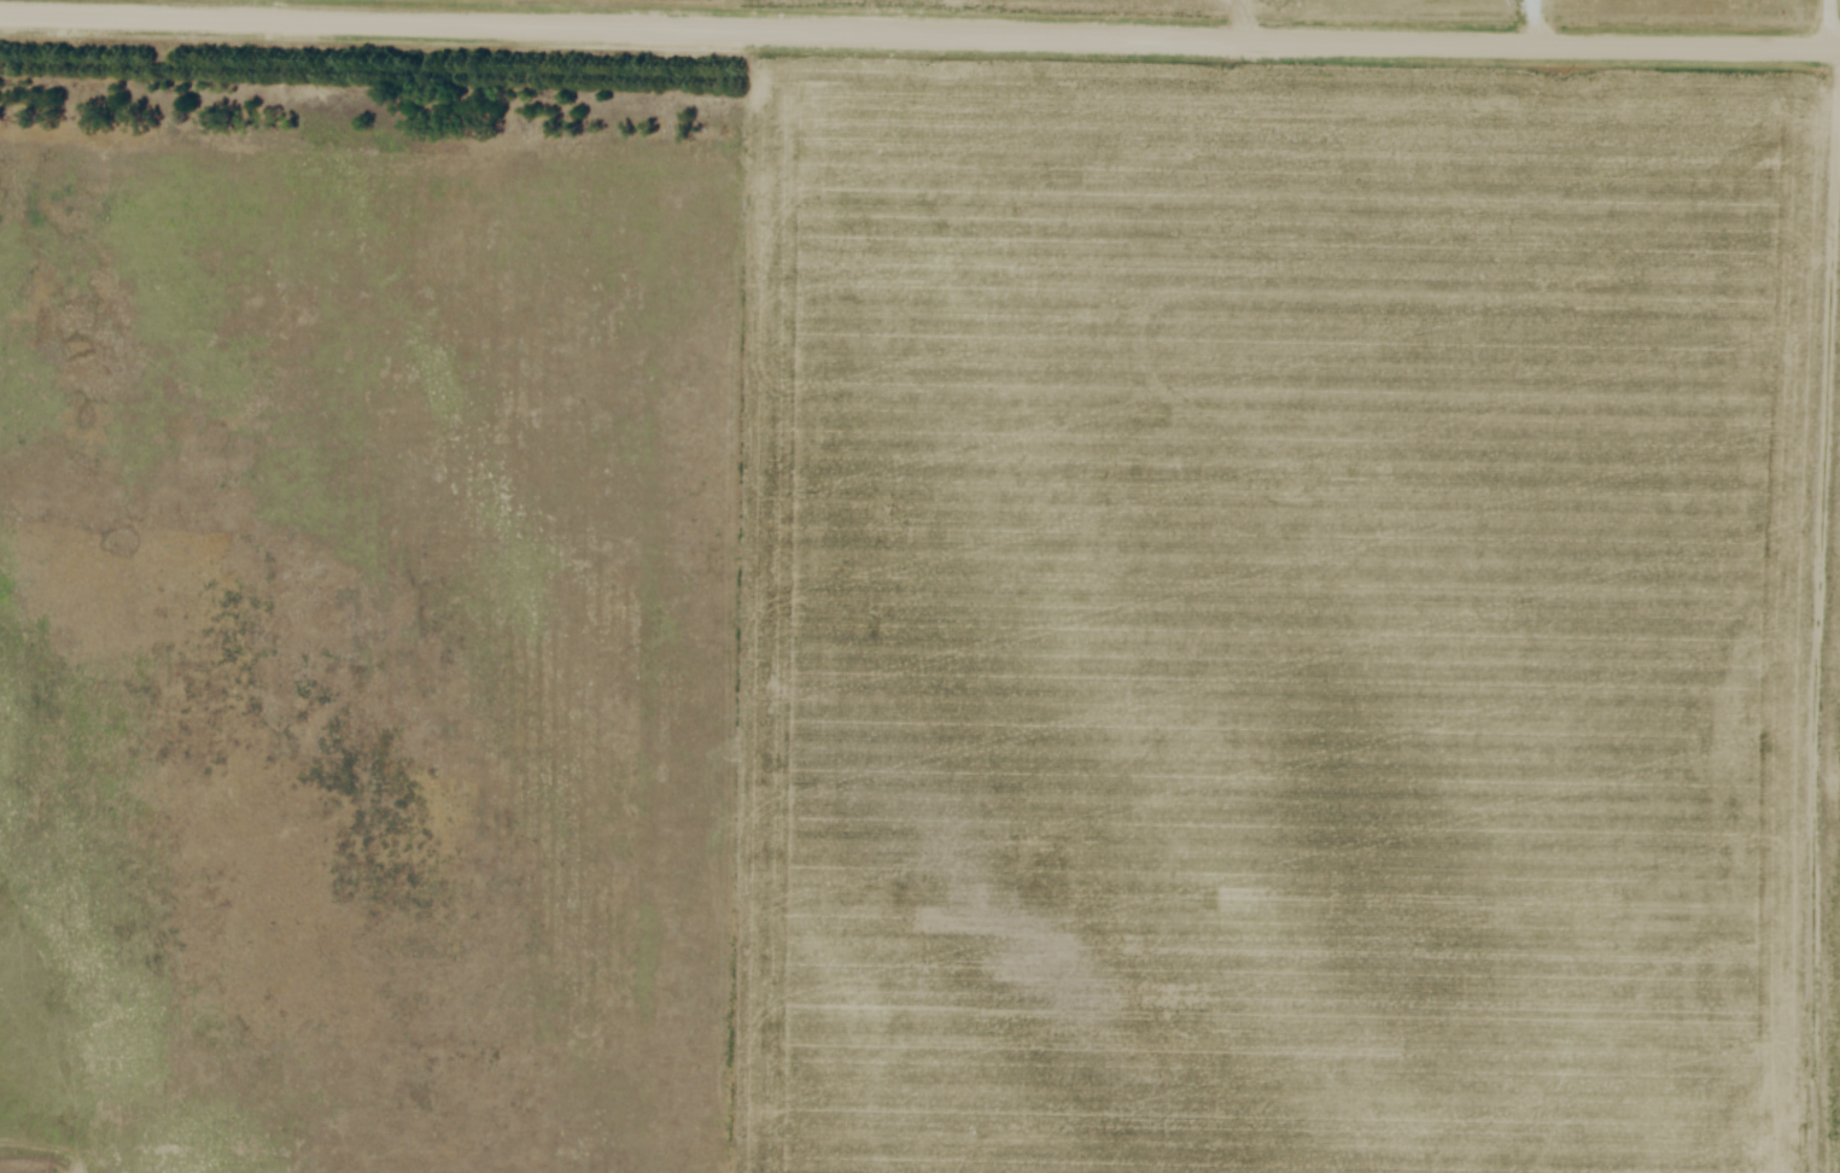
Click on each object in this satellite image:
road: (1834, 27)
road: (919, 36)

